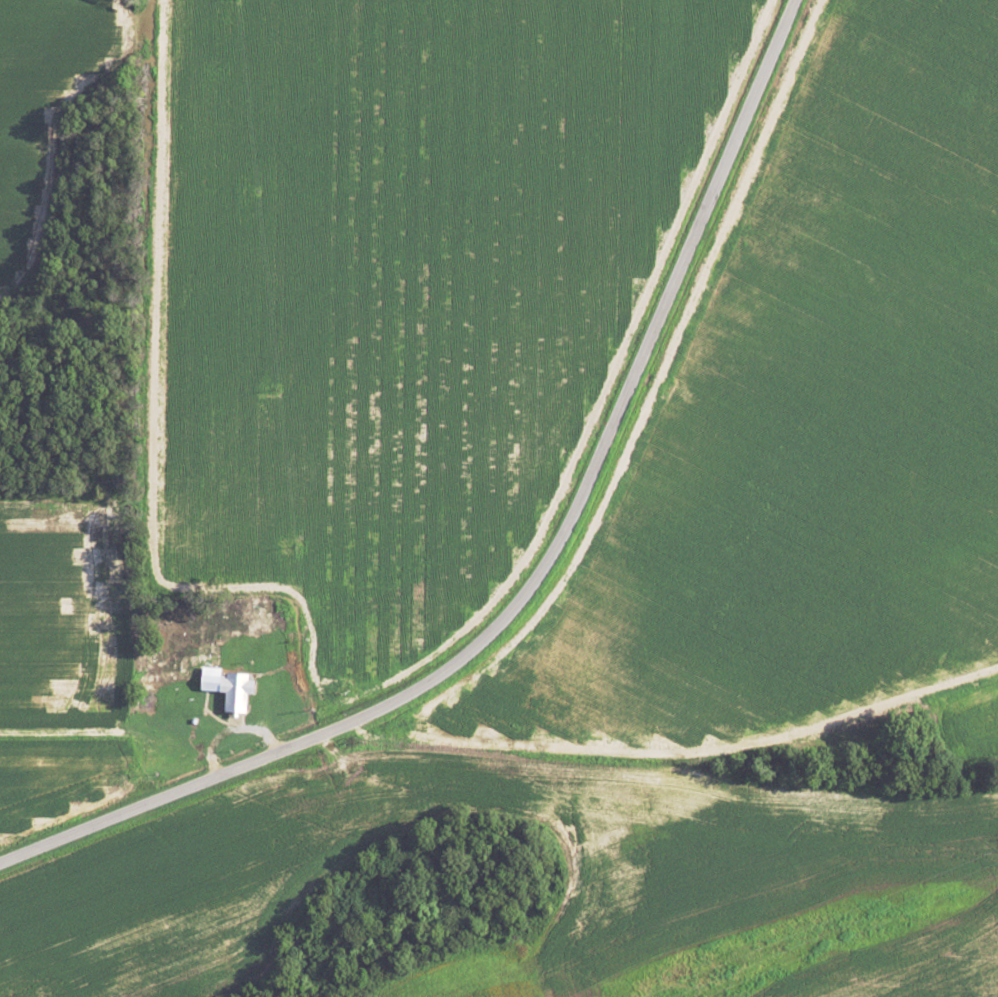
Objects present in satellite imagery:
road: (540, 571)
building: (233, 687)
road: (650, 777)

